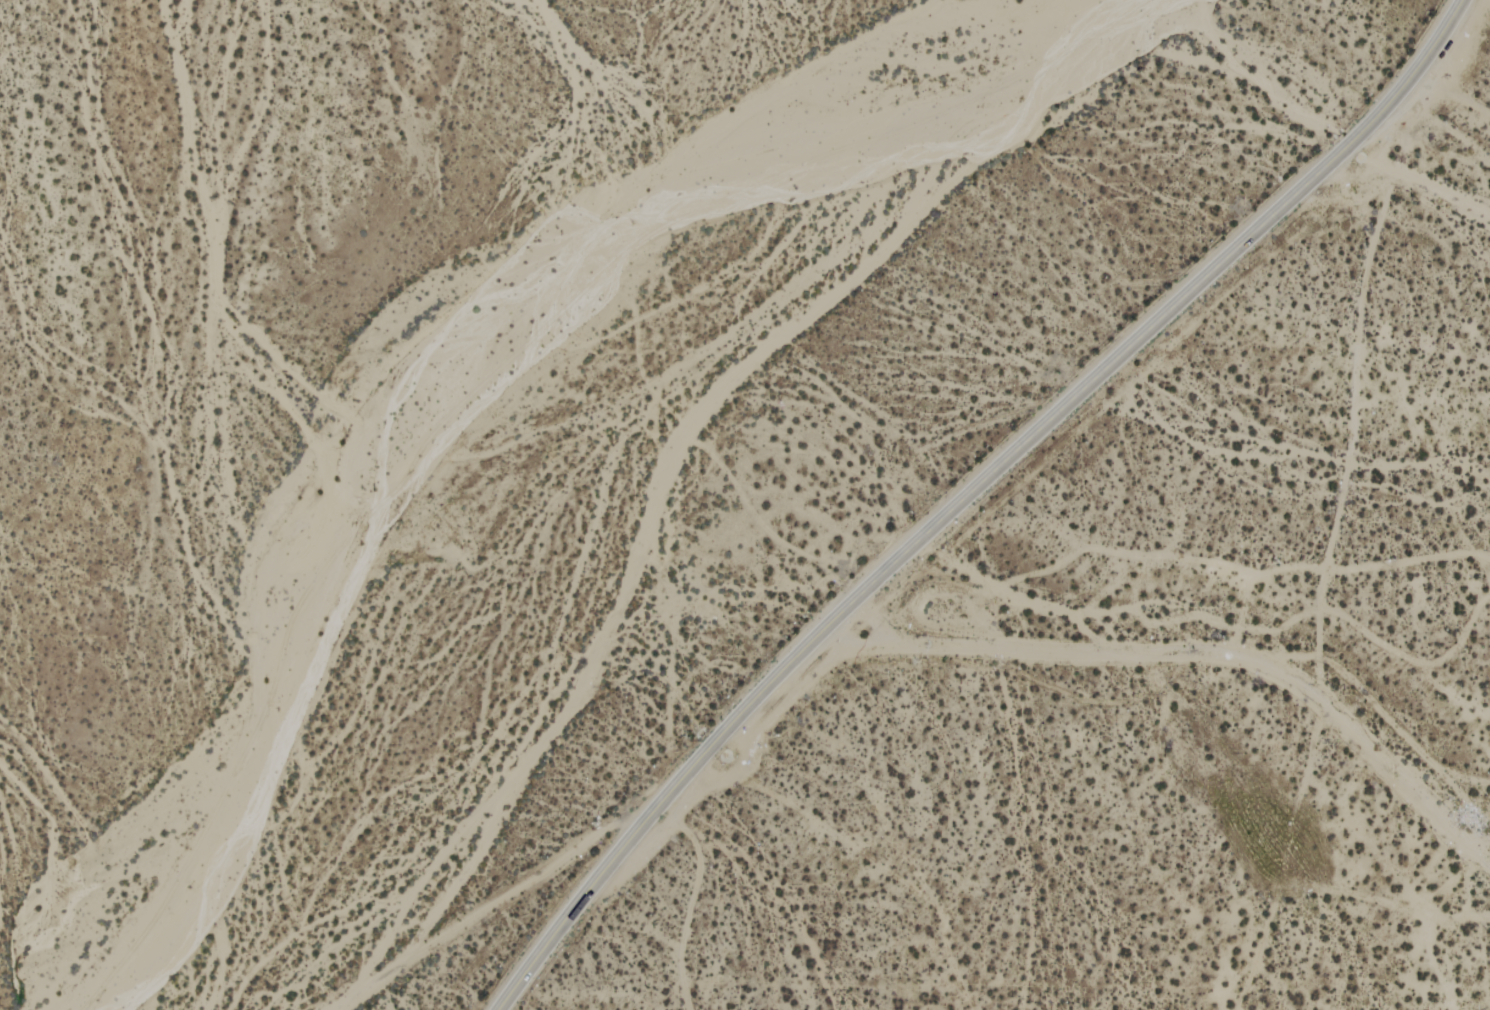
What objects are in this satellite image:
road: (968, 493)

